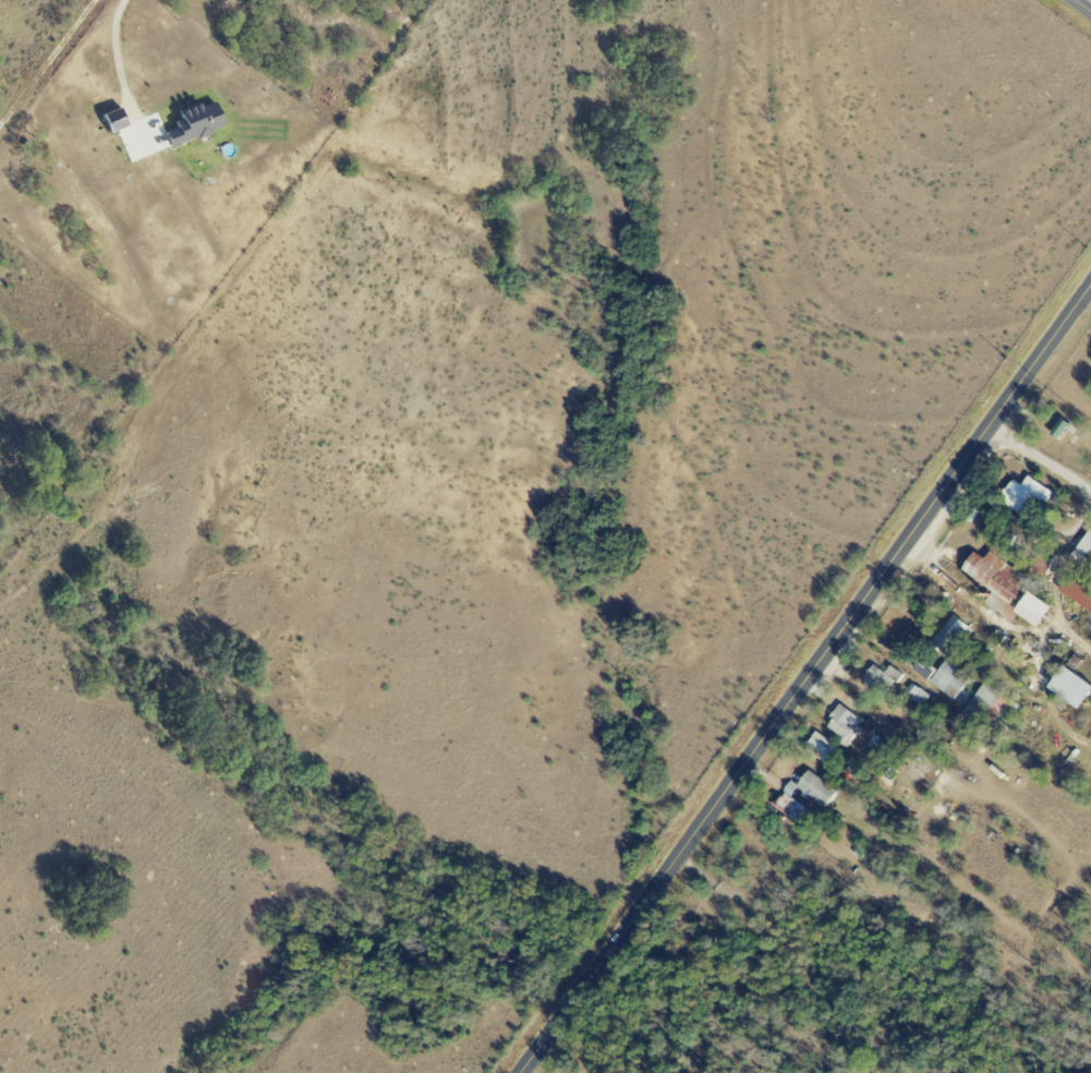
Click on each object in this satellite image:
road: (1082, 5)
road: (45, 58)
road: (119, 69)
building: (118, 120)
building: (198, 123)
road: (1090, 289)
road: (1068, 363)
road: (1040, 458)
building: (1023, 493)
building: (1086, 544)
road: (1065, 550)
building: (1040, 565)
building: (997, 576)
building: (1076, 593)
building: (1029, 608)
road: (993, 620)
building: (950, 637)
building: (882, 677)
road: (807, 679)
building: (948, 680)
building: (1067, 687)
building: (917, 695)
building: (843, 725)
building: (878, 740)
building: (823, 746)
building: (787, 801)

